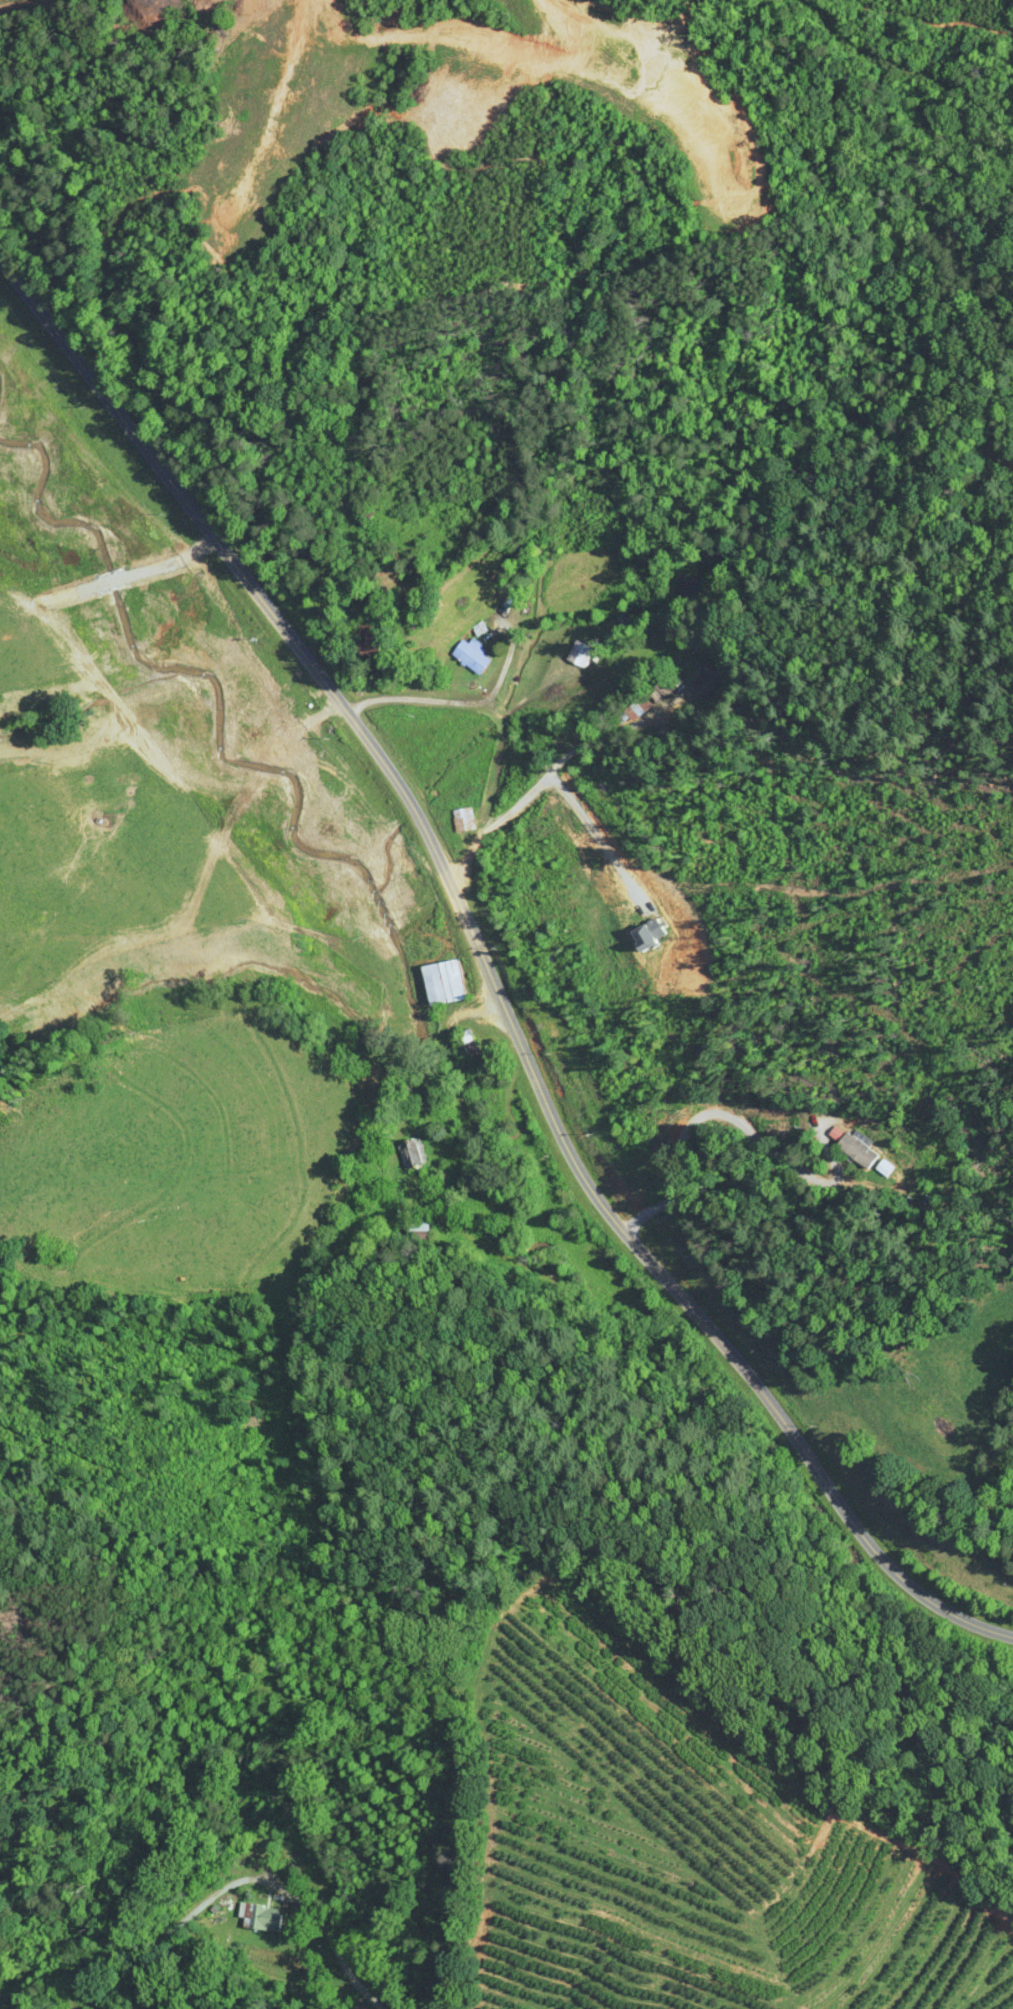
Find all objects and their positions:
building: (577, 654)
building: (469, 655)
building: (662, 686)
road: (457, 702)
building: (631, 711)
road: (544, 779)
building: (460, 819)
road: (597, 837)
road: (486, 973)
building: (440, 981)
building: (465, 1043)
building: (849, 1144)
building: (409, 1153)
road: (246, 1872)
building: (257, 1916)
building: (356, 2005)

